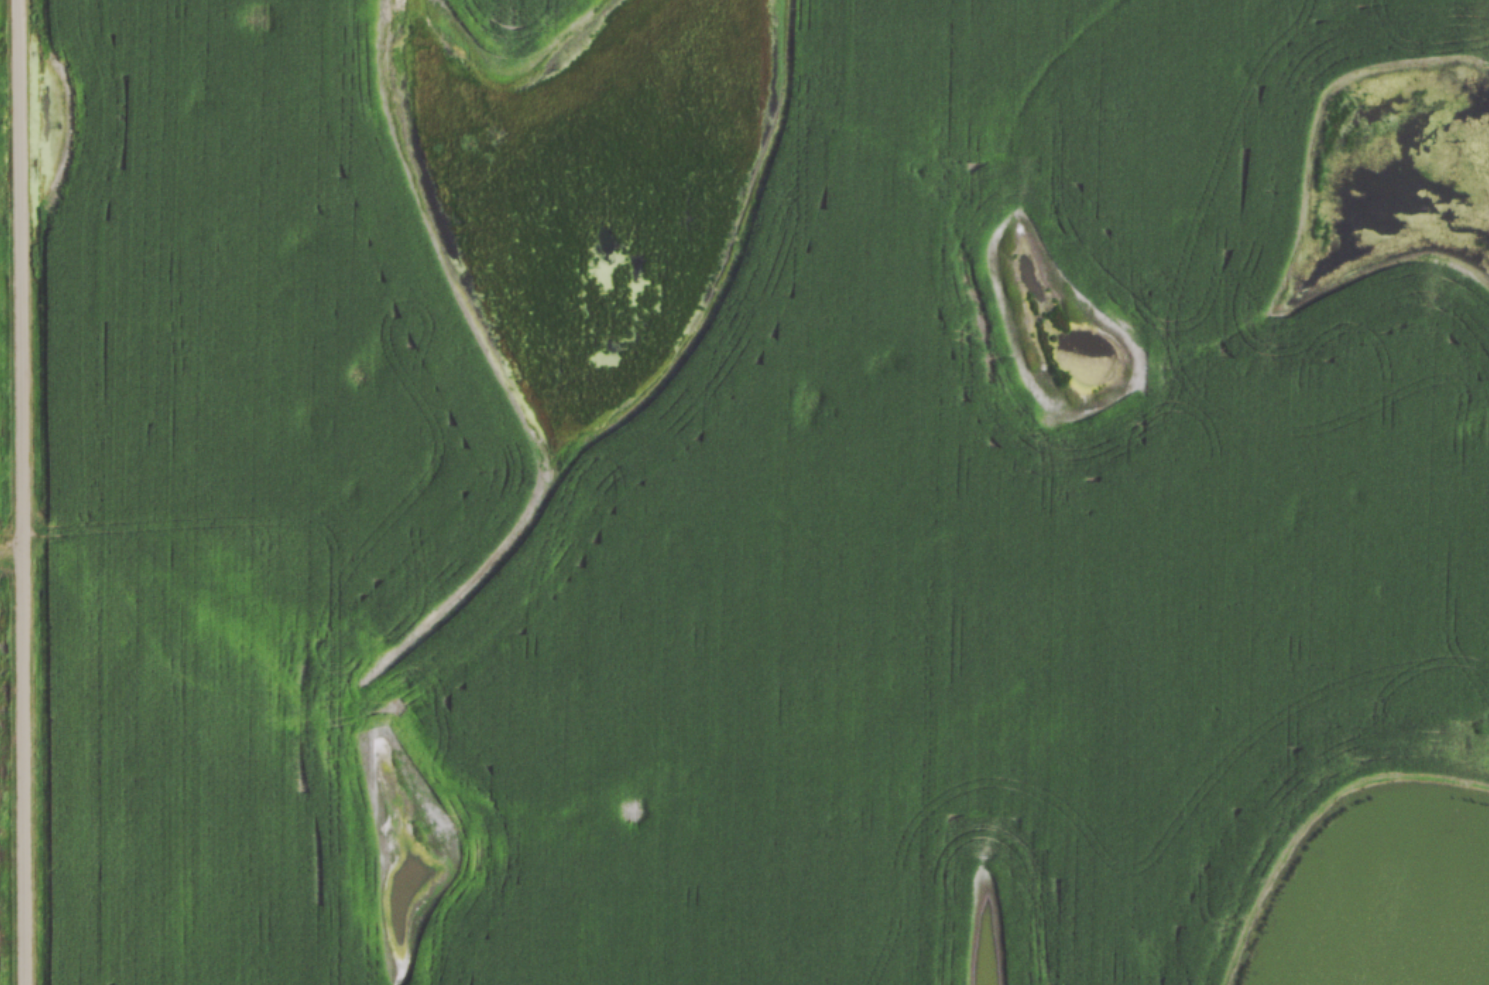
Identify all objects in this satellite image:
road: (16, 492)

